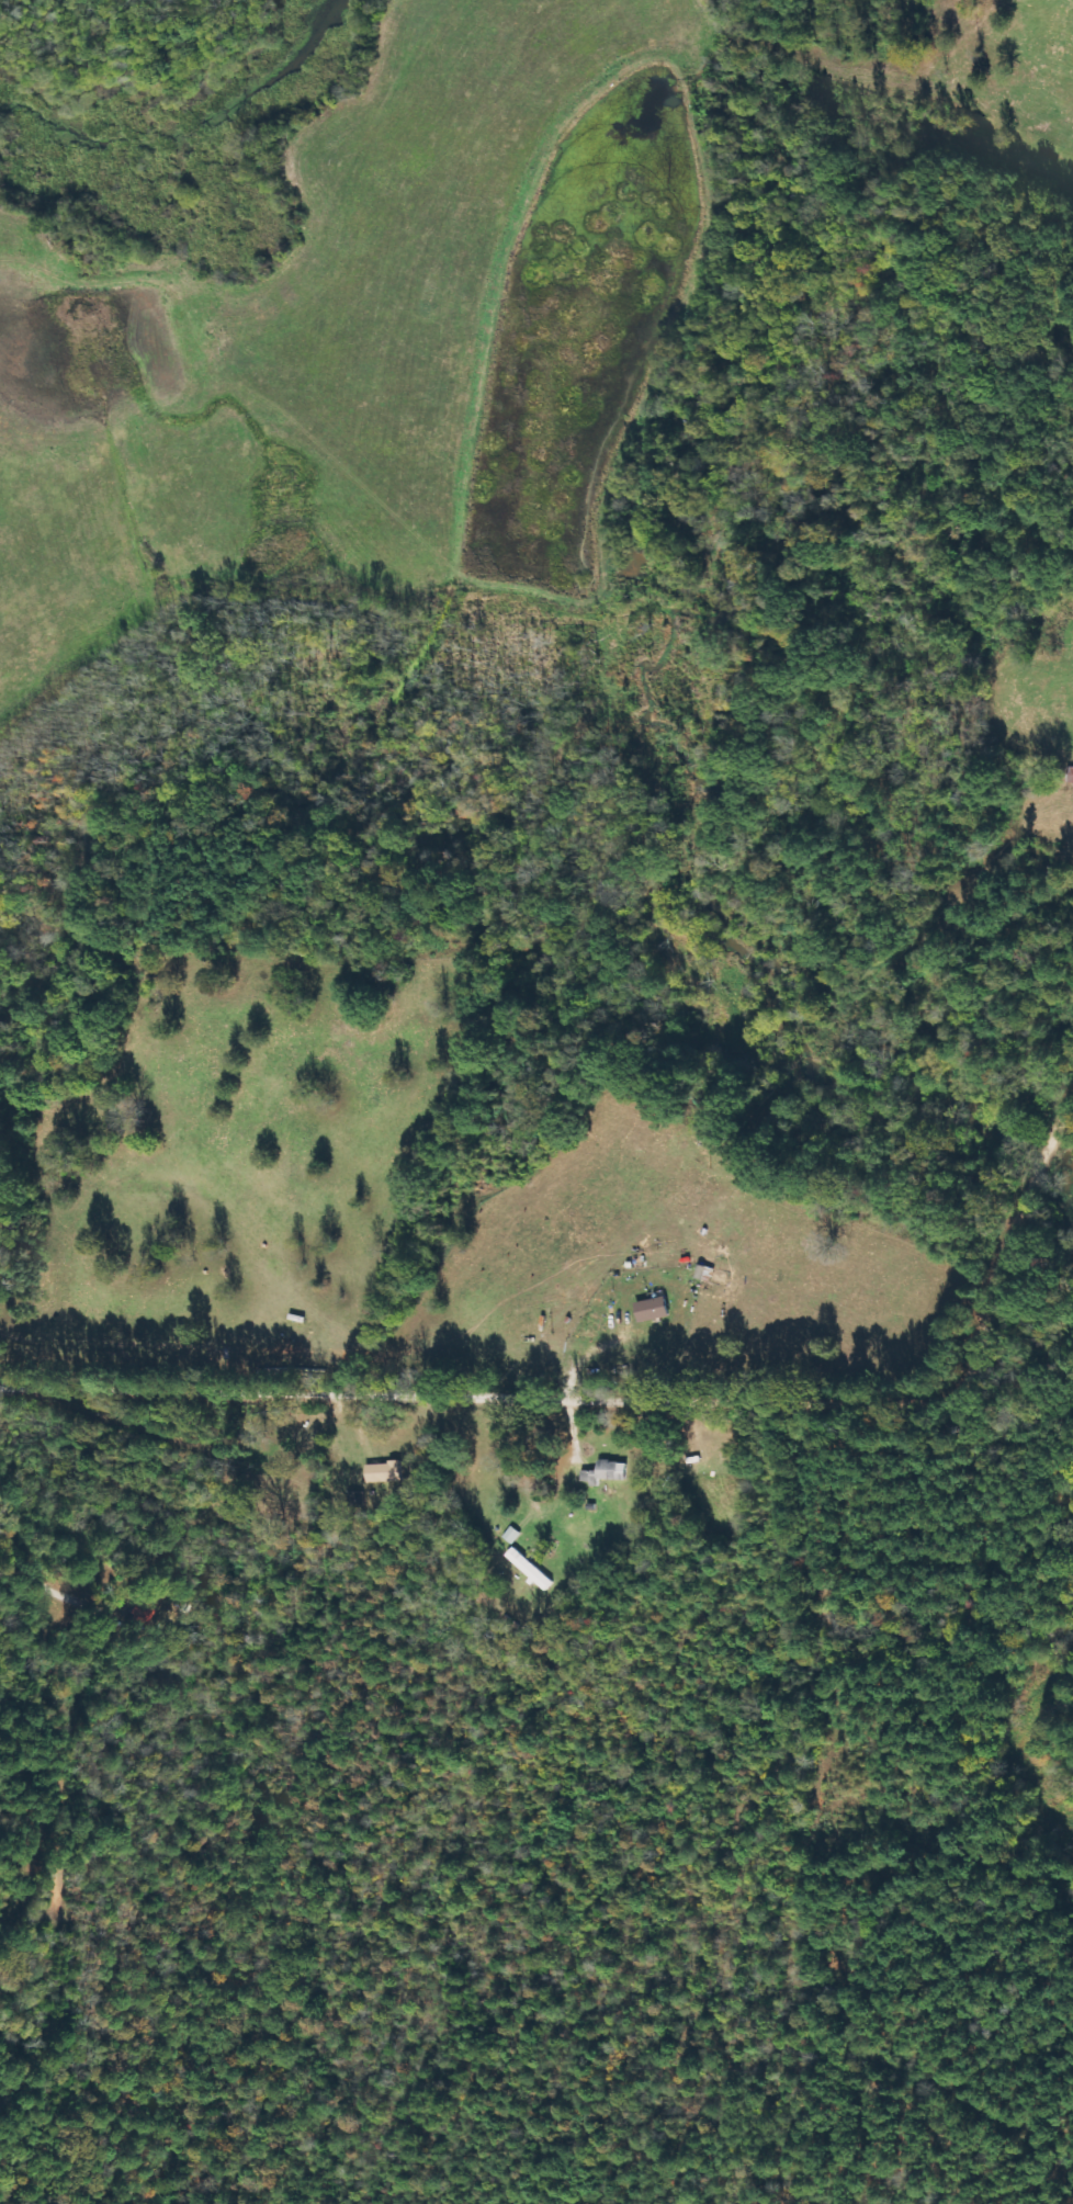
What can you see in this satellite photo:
building: (653, 1310)
road: (631, 1402)
building: (384, 1471)
building: (607, 1472)
building: (531, 1569)
road: (1043, 1595)
road: (54, 1715)

